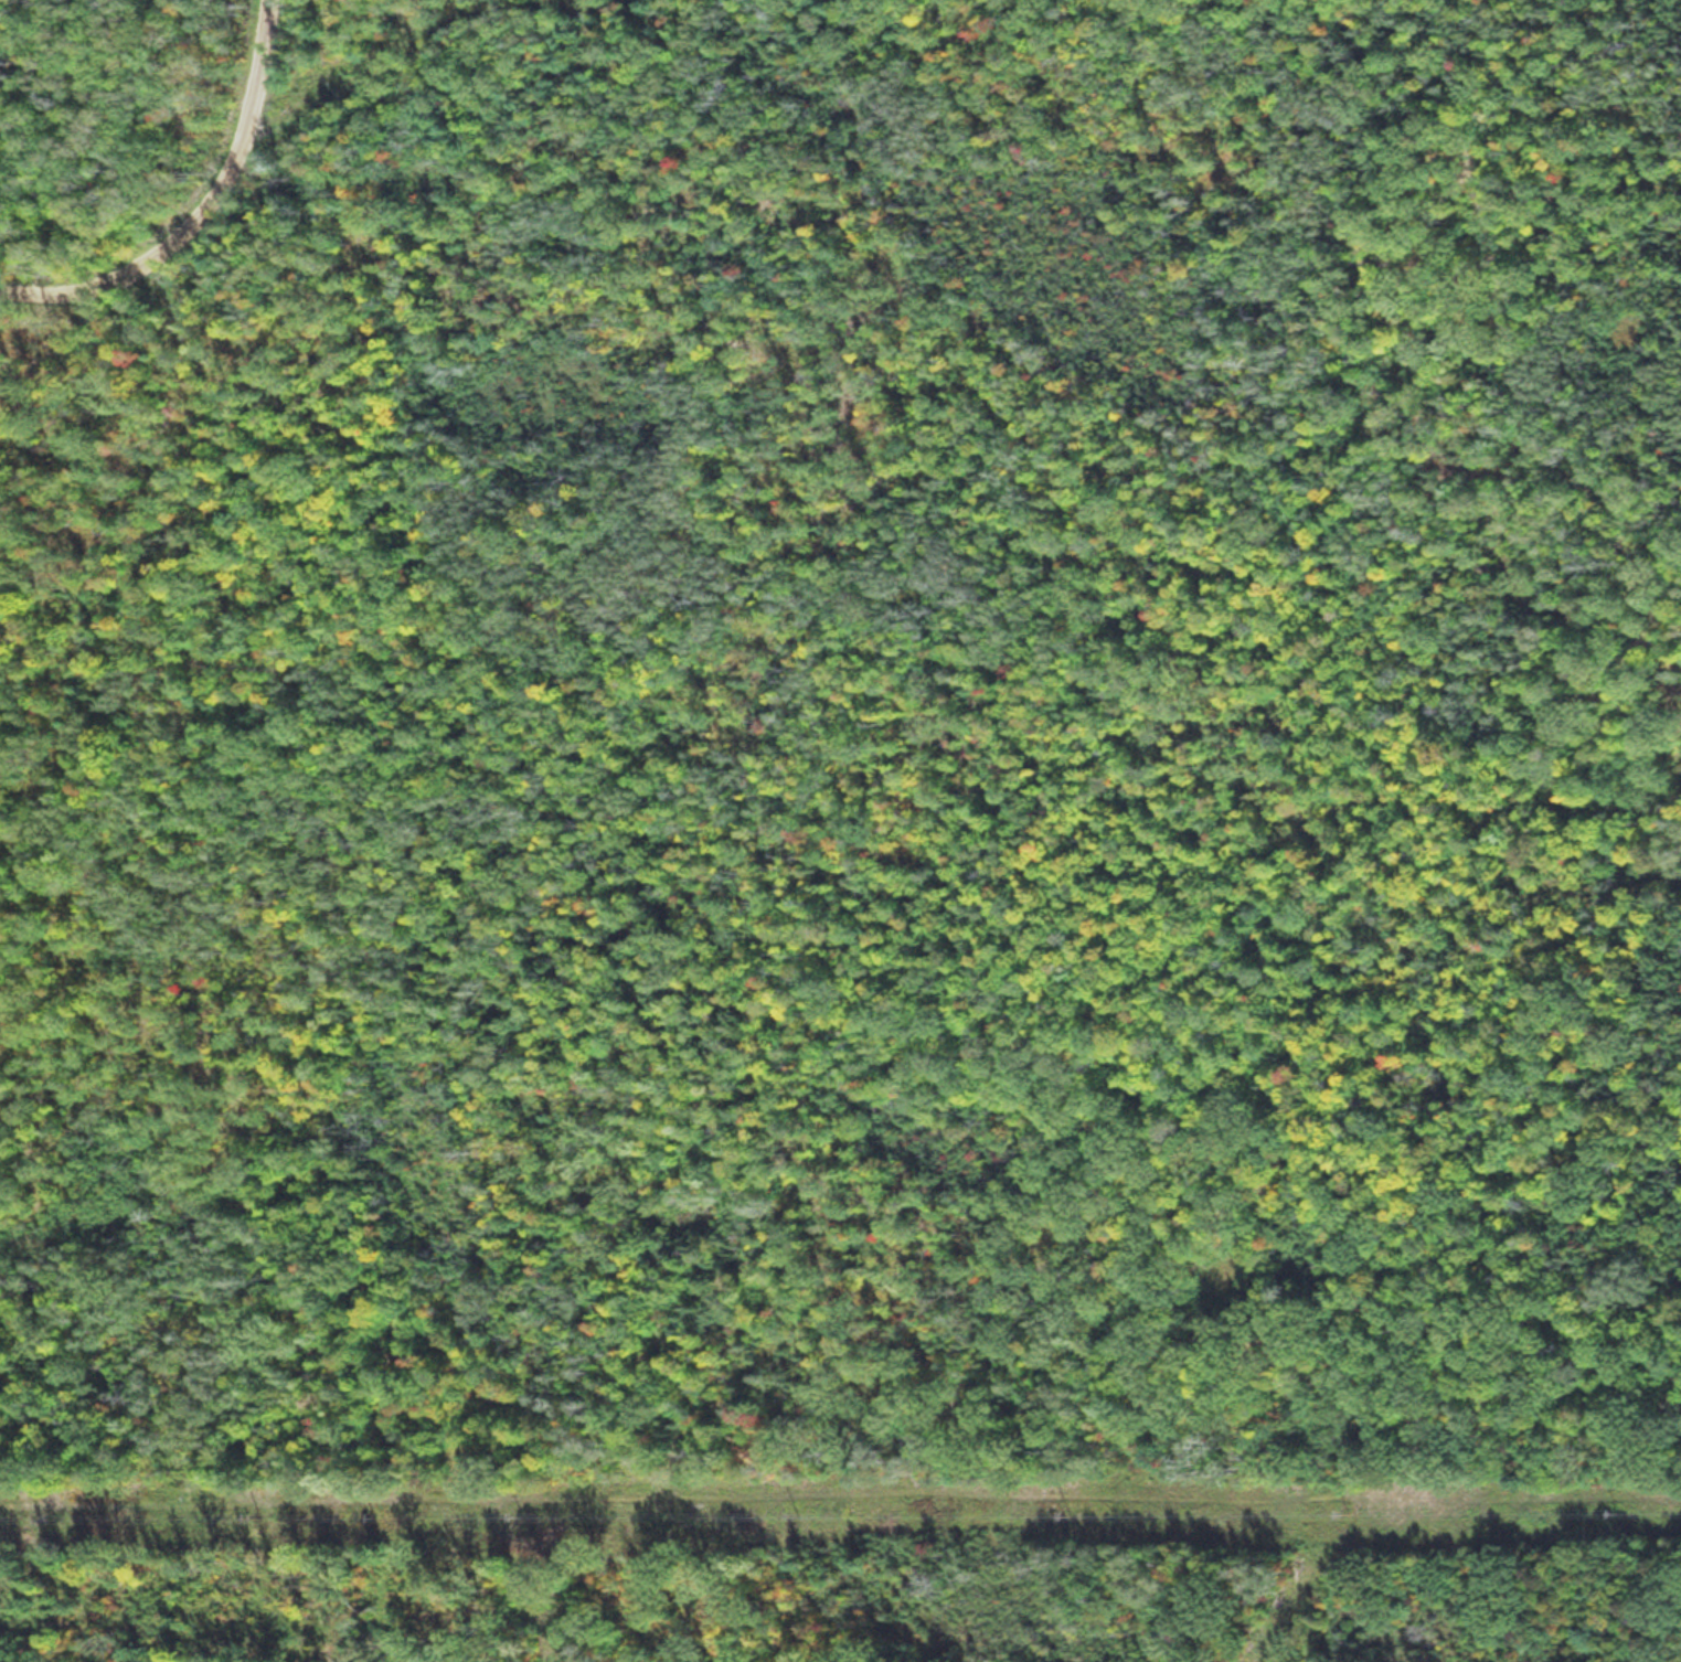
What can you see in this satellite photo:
road: (198, 204)

